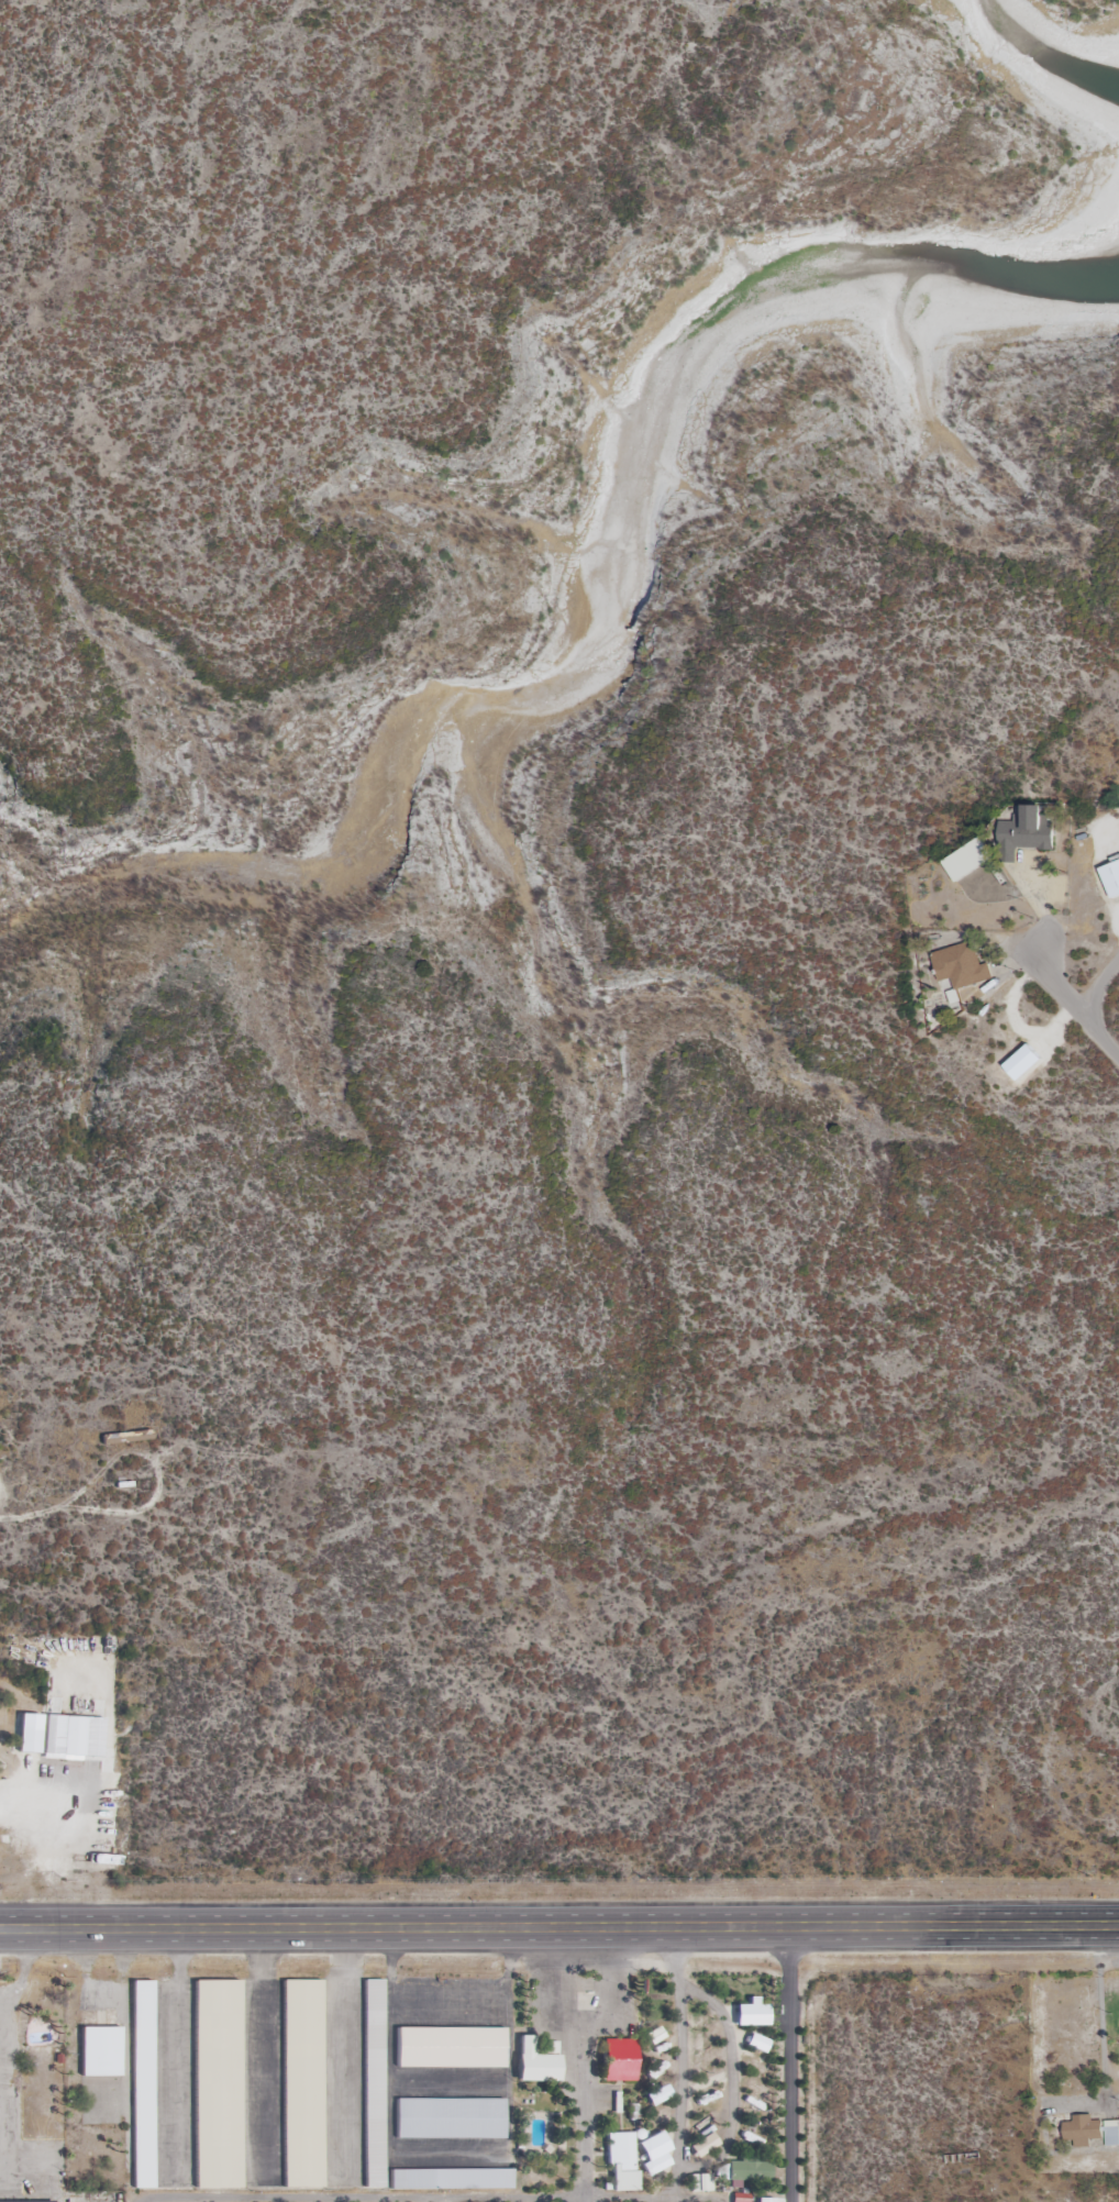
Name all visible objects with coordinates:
building: (1027, 832)
building: (967, 860)
building: (1111, 878)
building: (961, 967)
road: (1061, 986)
road: (1098, 996)
road: (1111, 1040)
building: (126, 1437)
road: (0, 1497)
building: (73, 1736)
building: (29, 1740)
road: (558, 1926)
building: (450, 2048)
building: (100, 2051)
road: (180, 2052)
road: (262, 2052)
road: (346, 2052)
road: (5, 2059)
building: (618, 2060)
road: (585, 2061)
building: (535, 2062)
road: (683, 2062)
road: (789, 2063)
road: (733, 2082)
building: (217, 2083)
building: (301, 2083)
building: (373, 2083)
building: (142, 2084)
building: (450, 2118)
building: (1090, 2132)
building: (620, 2161)
building: (747, 2170)
building: (451, 2179)
building: (698, 2183)
road: (363, 2197)
road: (651, 2198)
road: (651, 2200)
road: (685, 2200)
building: (24, 2201)

